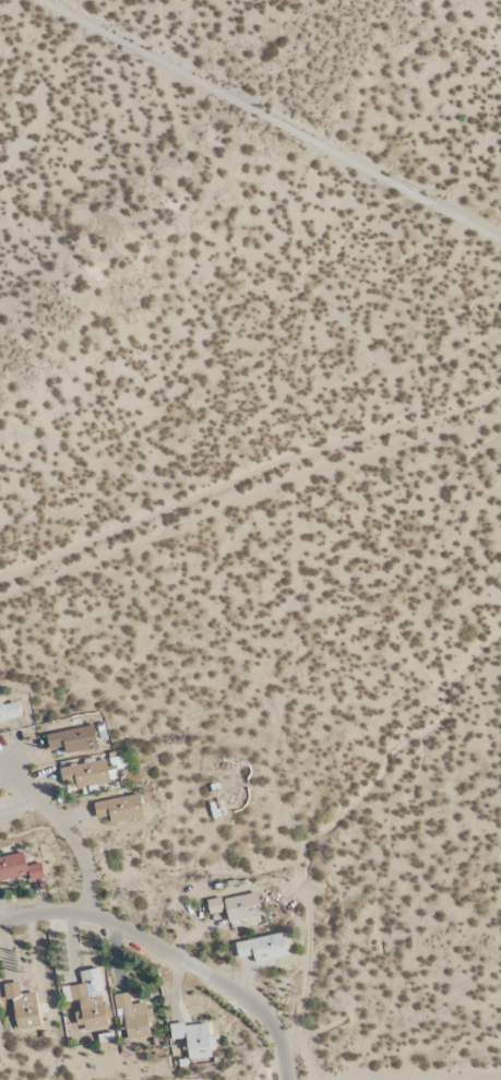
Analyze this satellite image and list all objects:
building: (10, 712)
building: (74, 741)
building: (88, 775)
building: (121, 809)
road: (71, 835)
building: (19, 869)
building: (246, 909)
building: (269, 949)
road: (171, 952)
building: (24, 1008)
building: (91, 1010)
building: (134, 1019)
building: (196, 1041)

